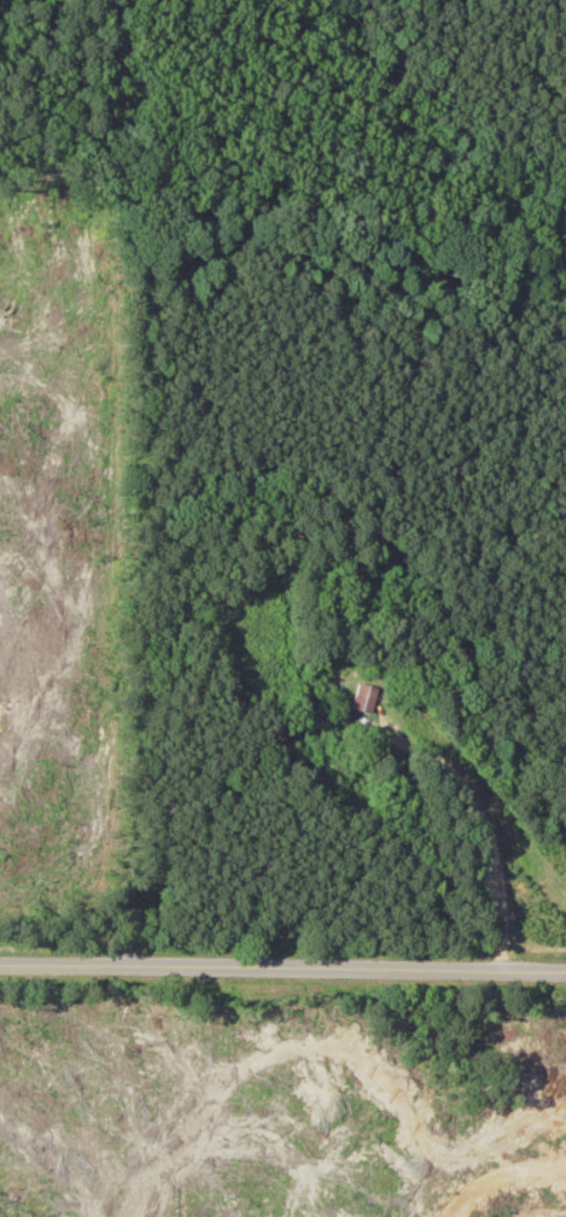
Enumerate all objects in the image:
building: (367, 698)
road: (282, 961)

